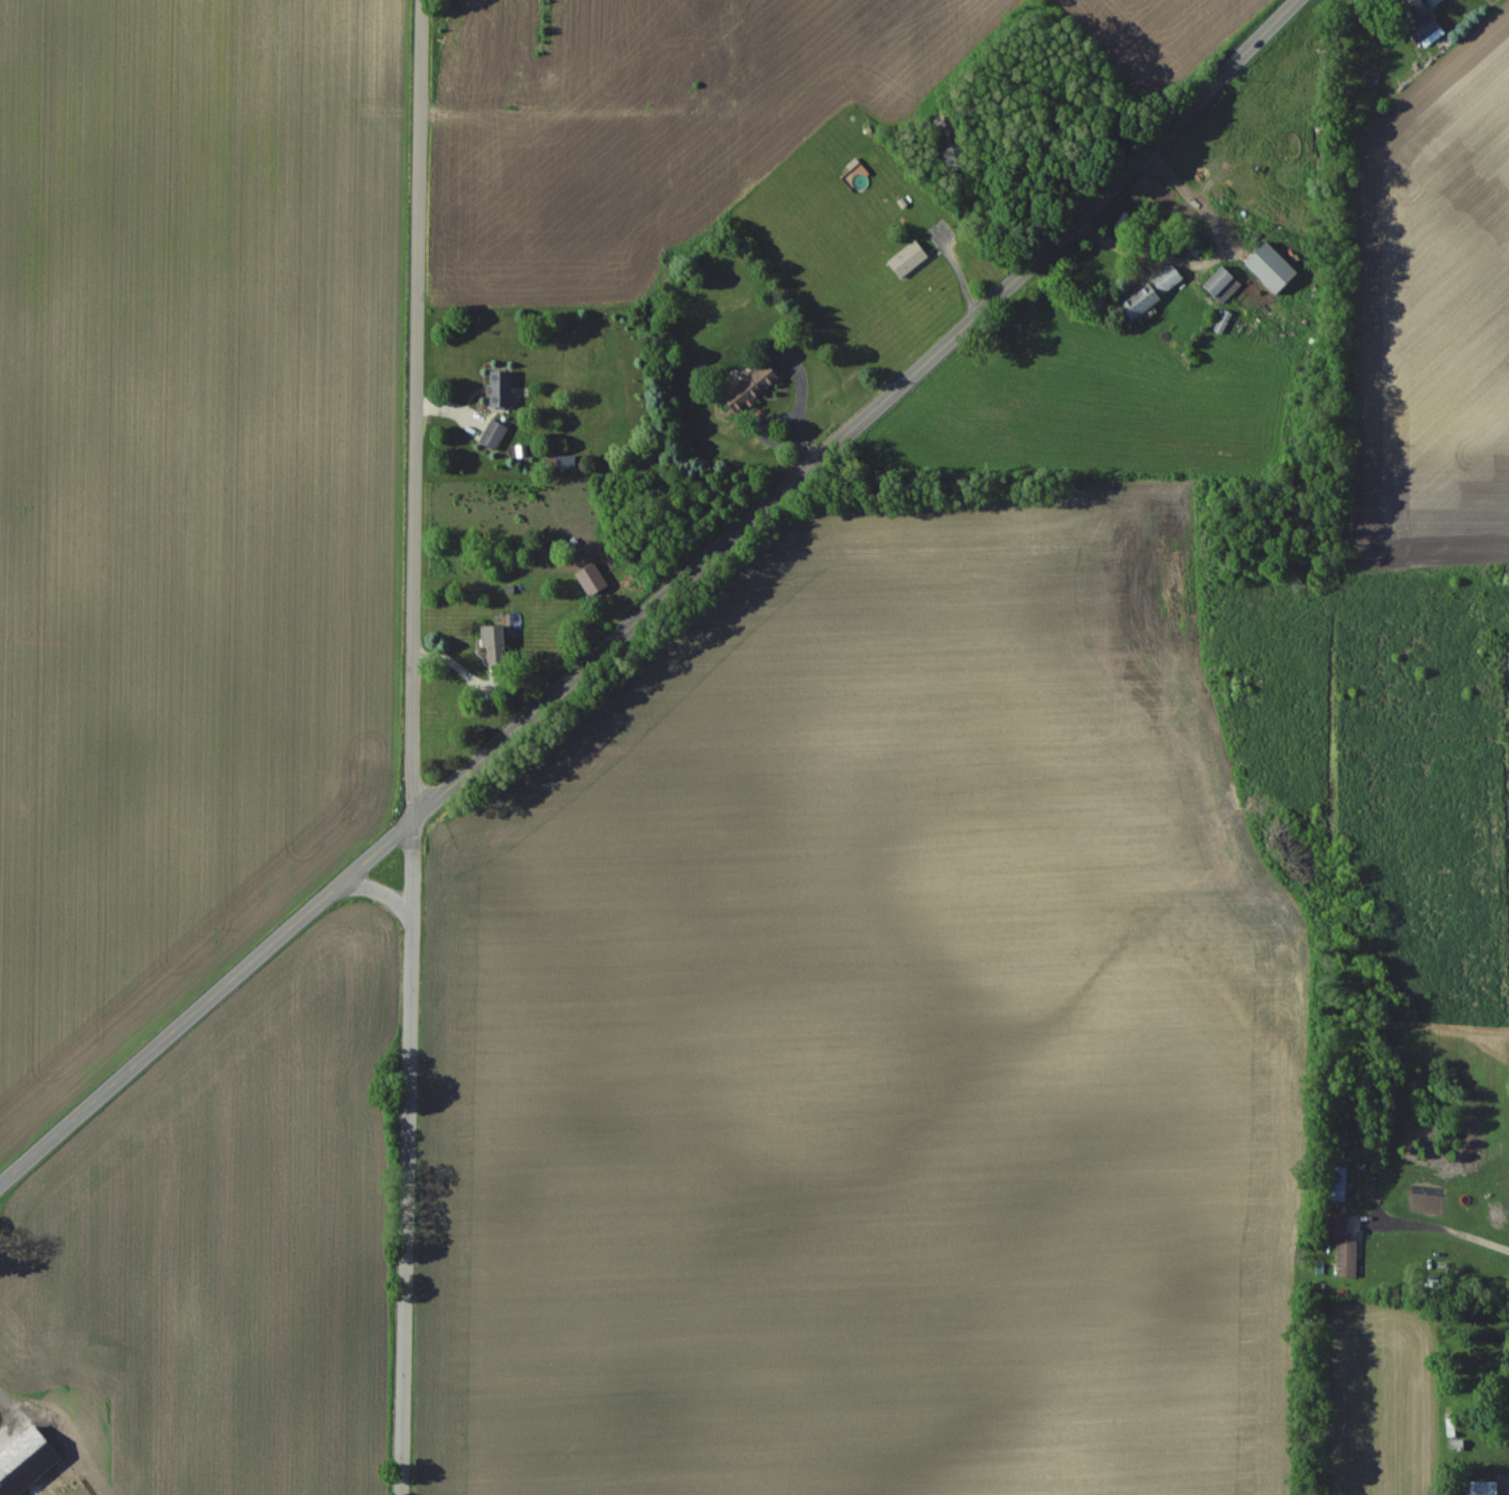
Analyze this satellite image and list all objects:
building: (1426, 30)
building: (951, 143)
building: (907, 259)
building: (1270, 268)
building: (1166, 279)
building: (1221, 285)
building: (1139, 301)
building: (750, 388)
building: (500, 389)
road: (415, 410)
road: (798, 411)
road: (862, 419)
building: (492, 435)
building: (591, 580)
building: (493, 644)
road: (372, 855)
road: (411, 872)
road: (378, 891)
road: (167, 1038)
building: (1337, 1183)
road: (406, 1209)
building: (1335, 1225)
road: (1455, 1228)
building: (1346, 1259)
building: (1482, 1488)

